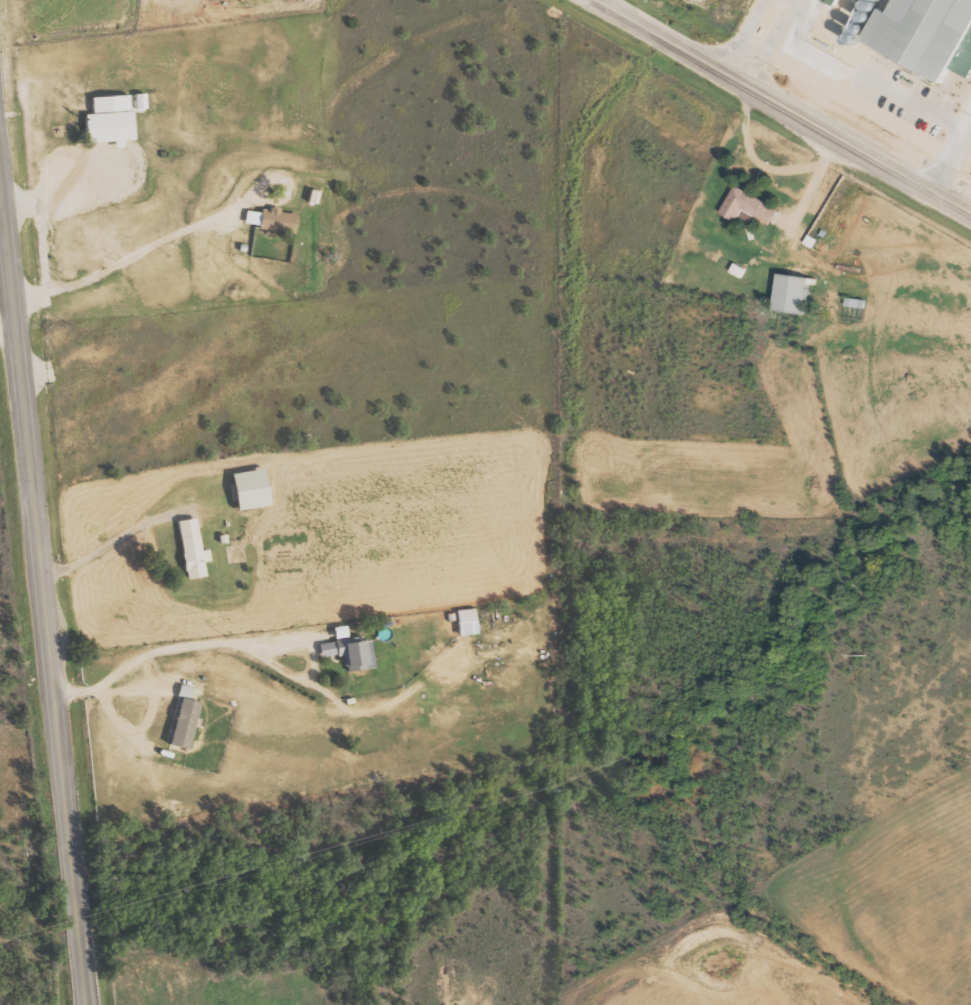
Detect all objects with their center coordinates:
building: (840, 1)
building: (921, 41)
building: (144, 101)
road: (785, 104)
building: (104, 123)
building: (754, 206)
building: (276, 221)
road: (7, 289)
building: (799, 294)
building: (249, 488)
building: (191, 547)
building: (467, 620)
building: (339, 632)
building: (367, 650)
building: (344, 651)
road: (48, 683)
building: (183, 689)
building: (183, 722)

